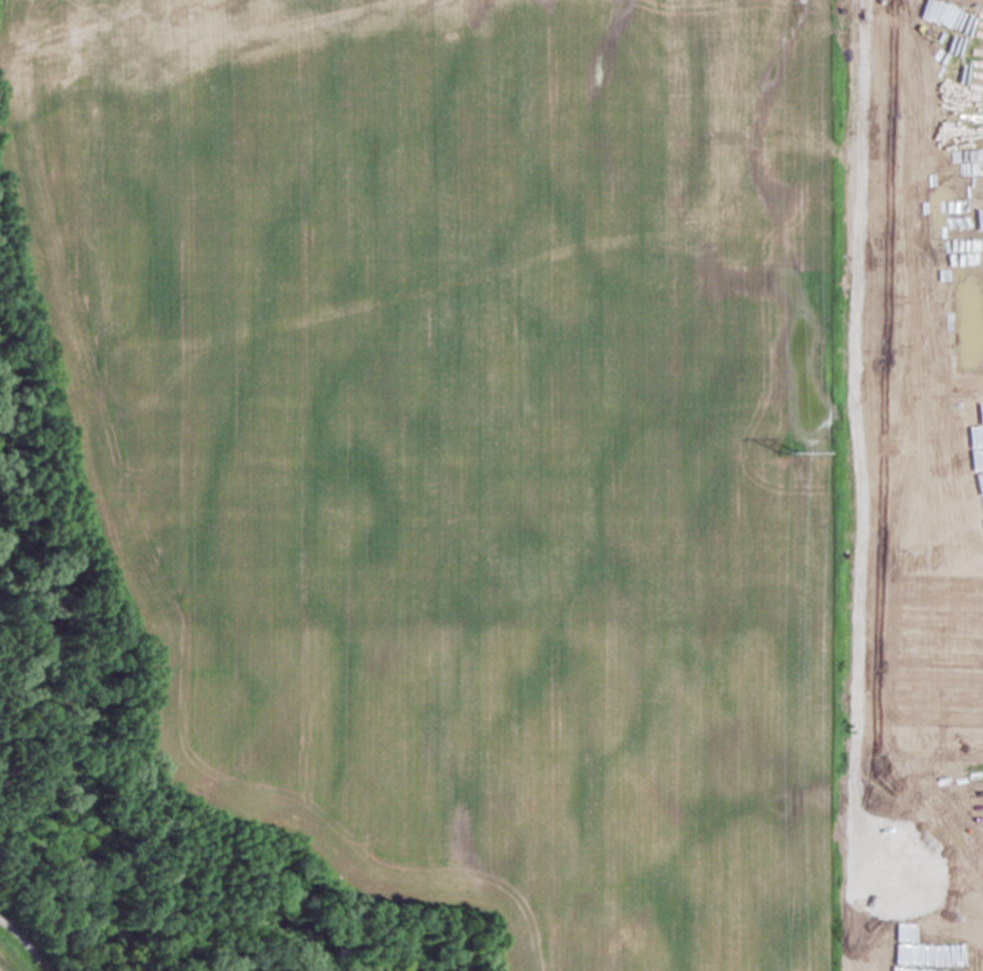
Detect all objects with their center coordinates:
power tower: (794, 455)

